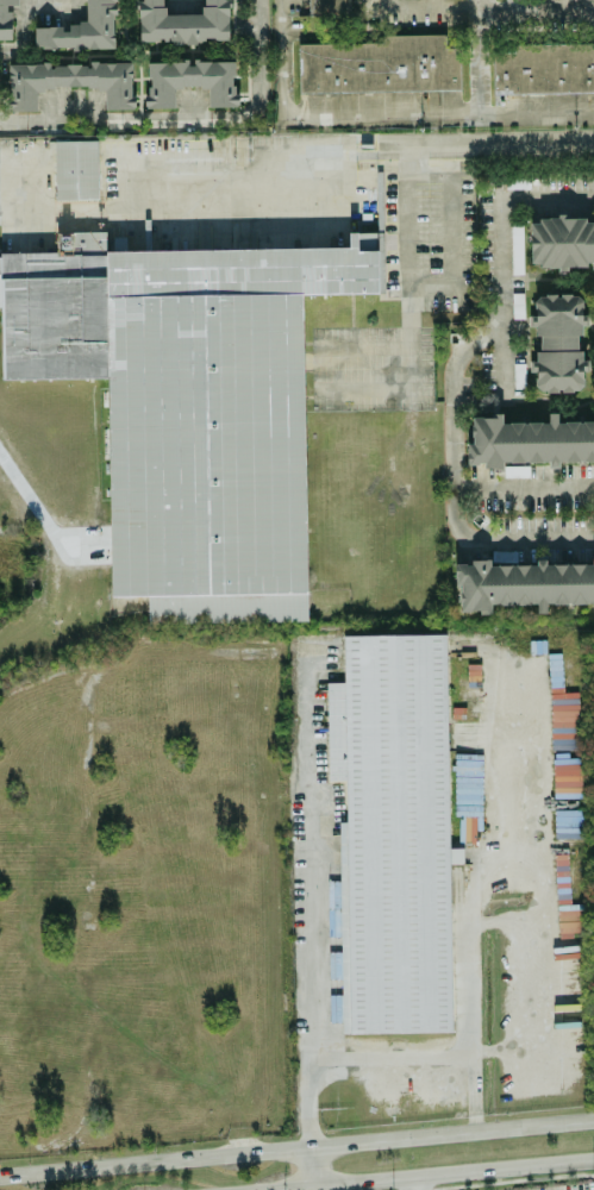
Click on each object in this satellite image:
road: (517, 4)
road: (434, 6)
road: (488, 7)
building: (6, 18)
building: (182, 23)
building: (81, 30)
road: (25, 33)
road: (484, 51)
building: (380, 65)
building: (544, 69)
building: (70, 81)
building: (190, 81)
road: (387, 106)
road: (188, 119)
road: (337, 150)
building: (75, 170)
road: (19, 193)
road: (207, 195)
road: (448, 233)
building: (561, 243)
building: (515, 250)
road: (407, 251)
building: (517, 306)
building: (557, 343)
road: (502, 364)
road: (452, 378)
building: (188, 406)
building: (529, 441)
road: (524, 487)
building: (523, 584)
building: (393, 833)
road: (469, 889)
road: (312, 900)
road: (537, 1052)
road: (296, 1151)
road: (307, 1167)
road: (427, 1175)
road: (413, 1183)

